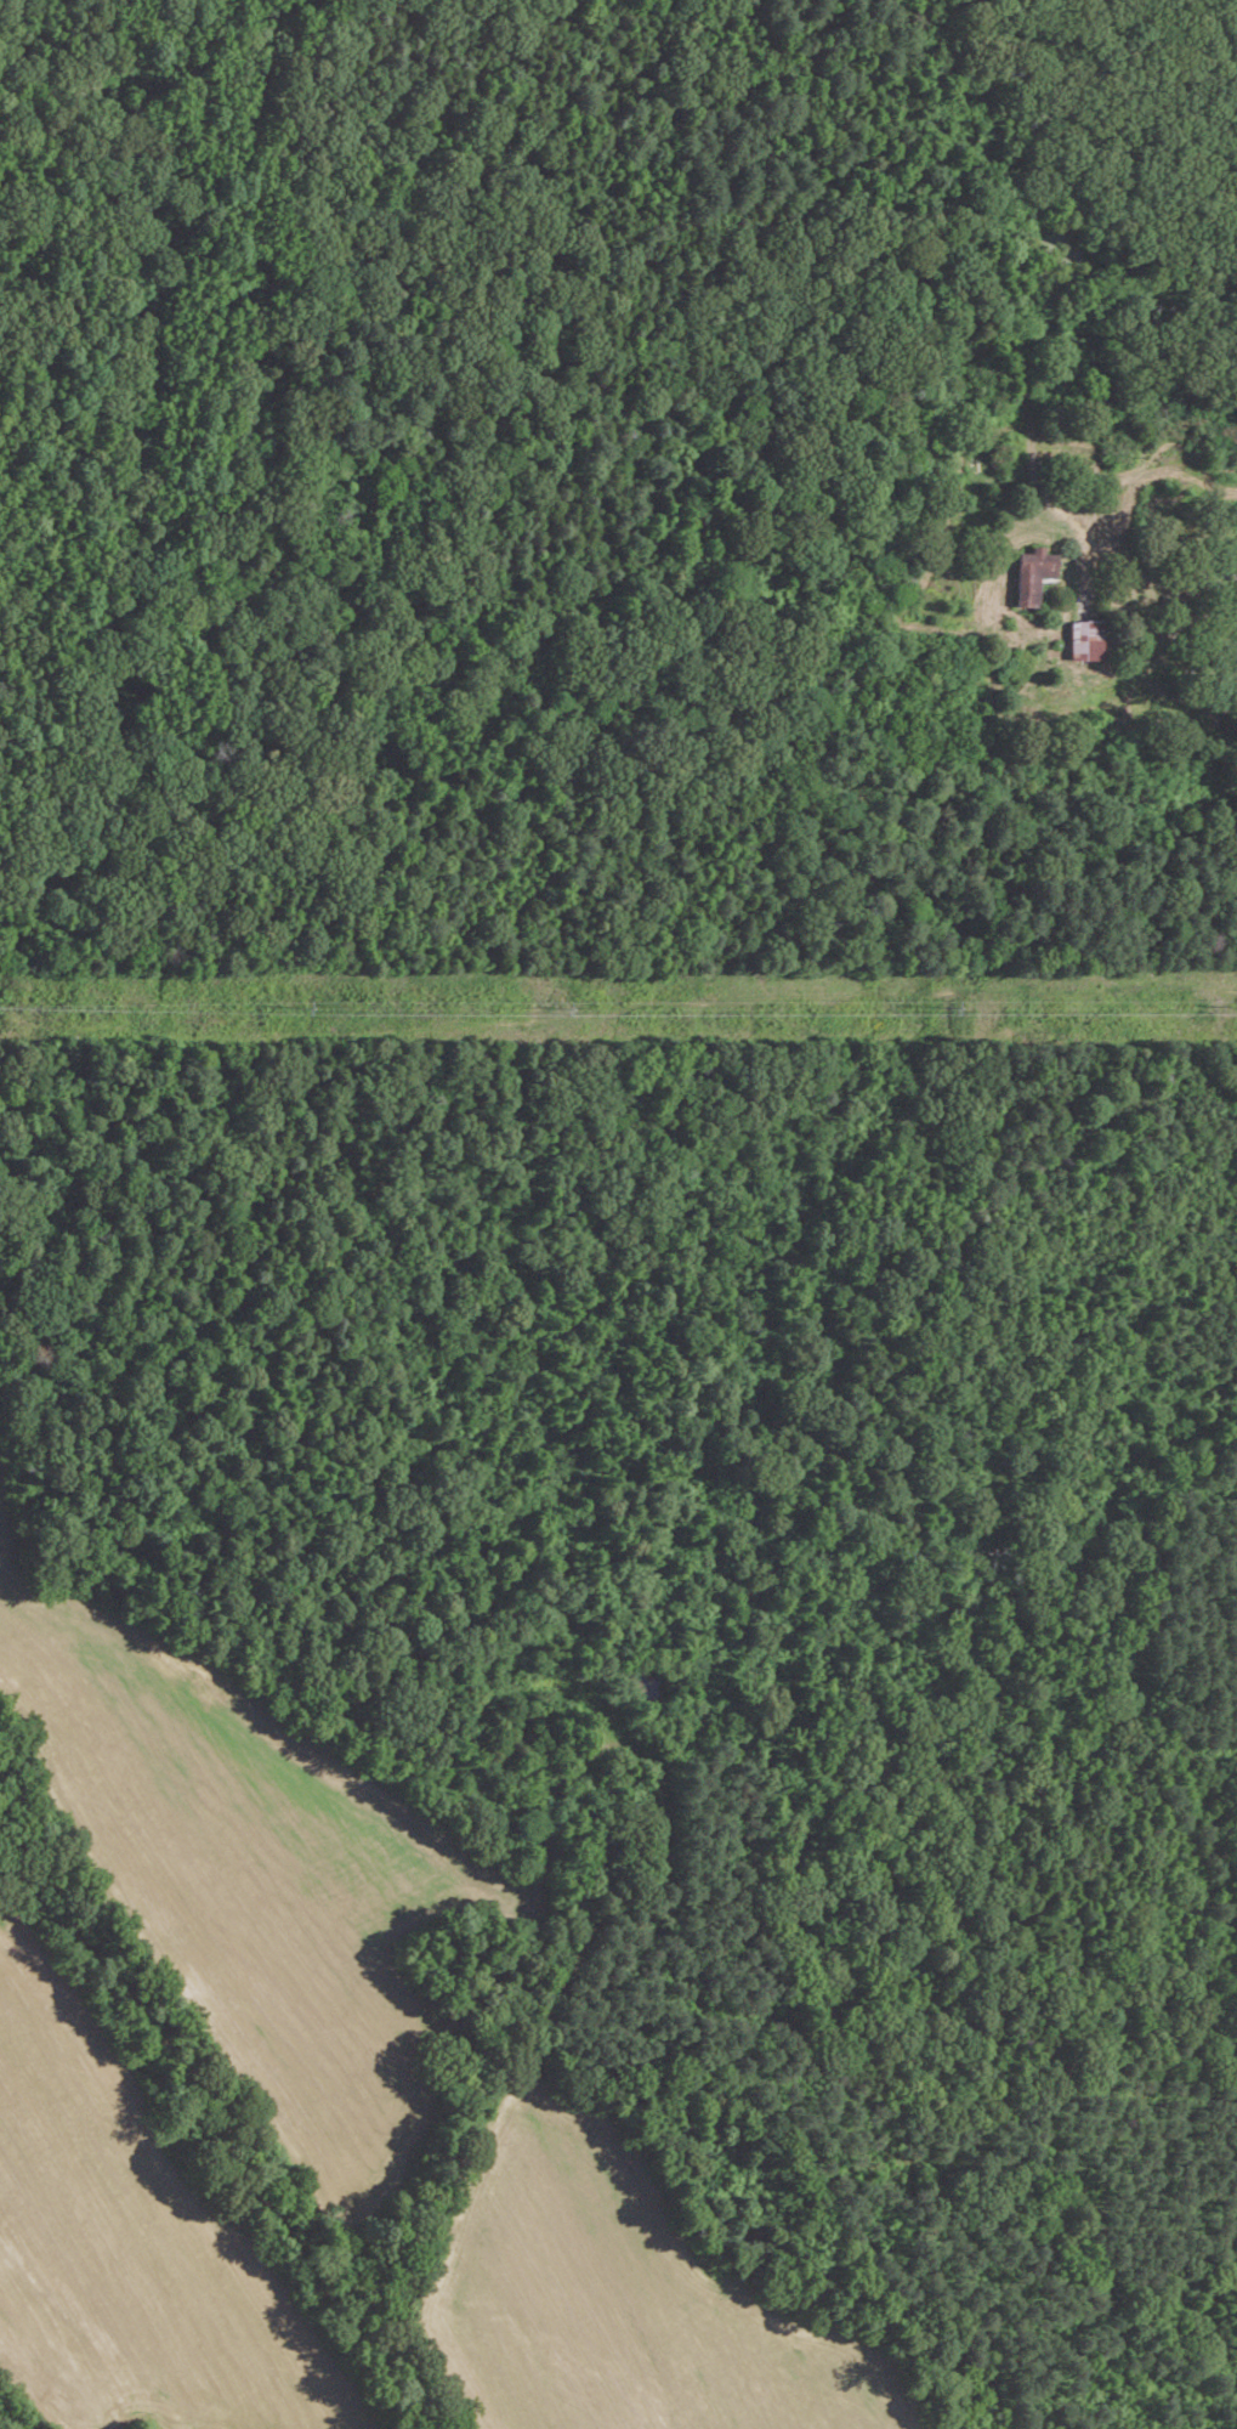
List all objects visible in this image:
building: (1032, 572)
road: (1168, 577)
building: (1085, 638)
power tower: (564, 1006)
power tower: (306, 1007)
power tower: (952, 1007)

